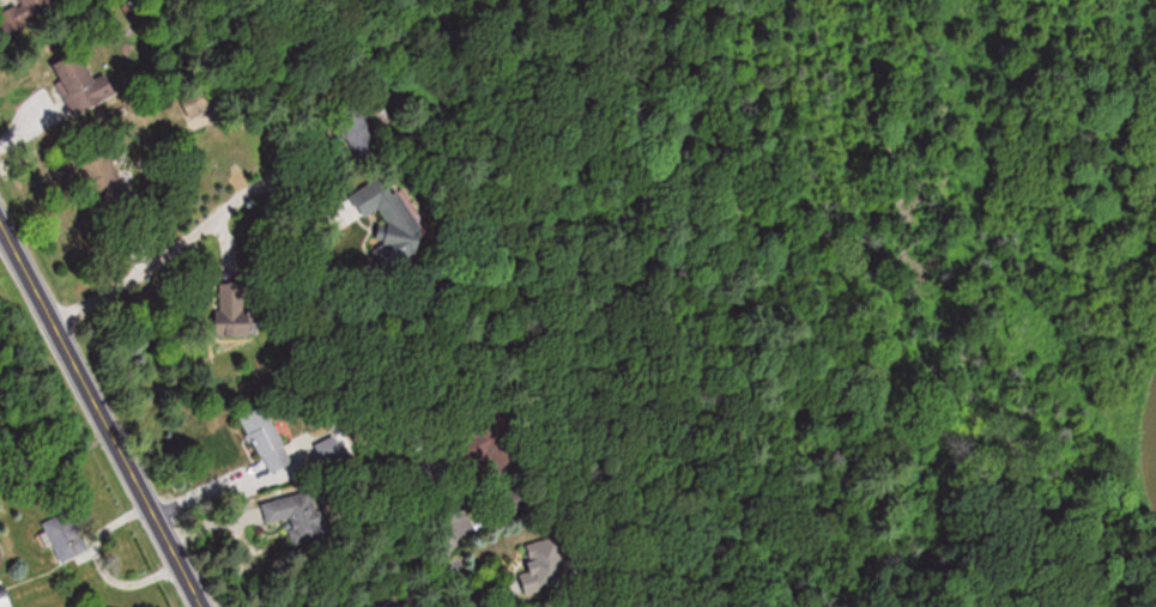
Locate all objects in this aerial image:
building: (29, 6)
building: (75, 80)
building: (382, 221)
road: (155, 260)
building: (232, 315)
road: (96, 425)
building: (266, 439)
building: (285, 514)
building: (65, 536)
building: (541, 573)
building: (4, 602)

